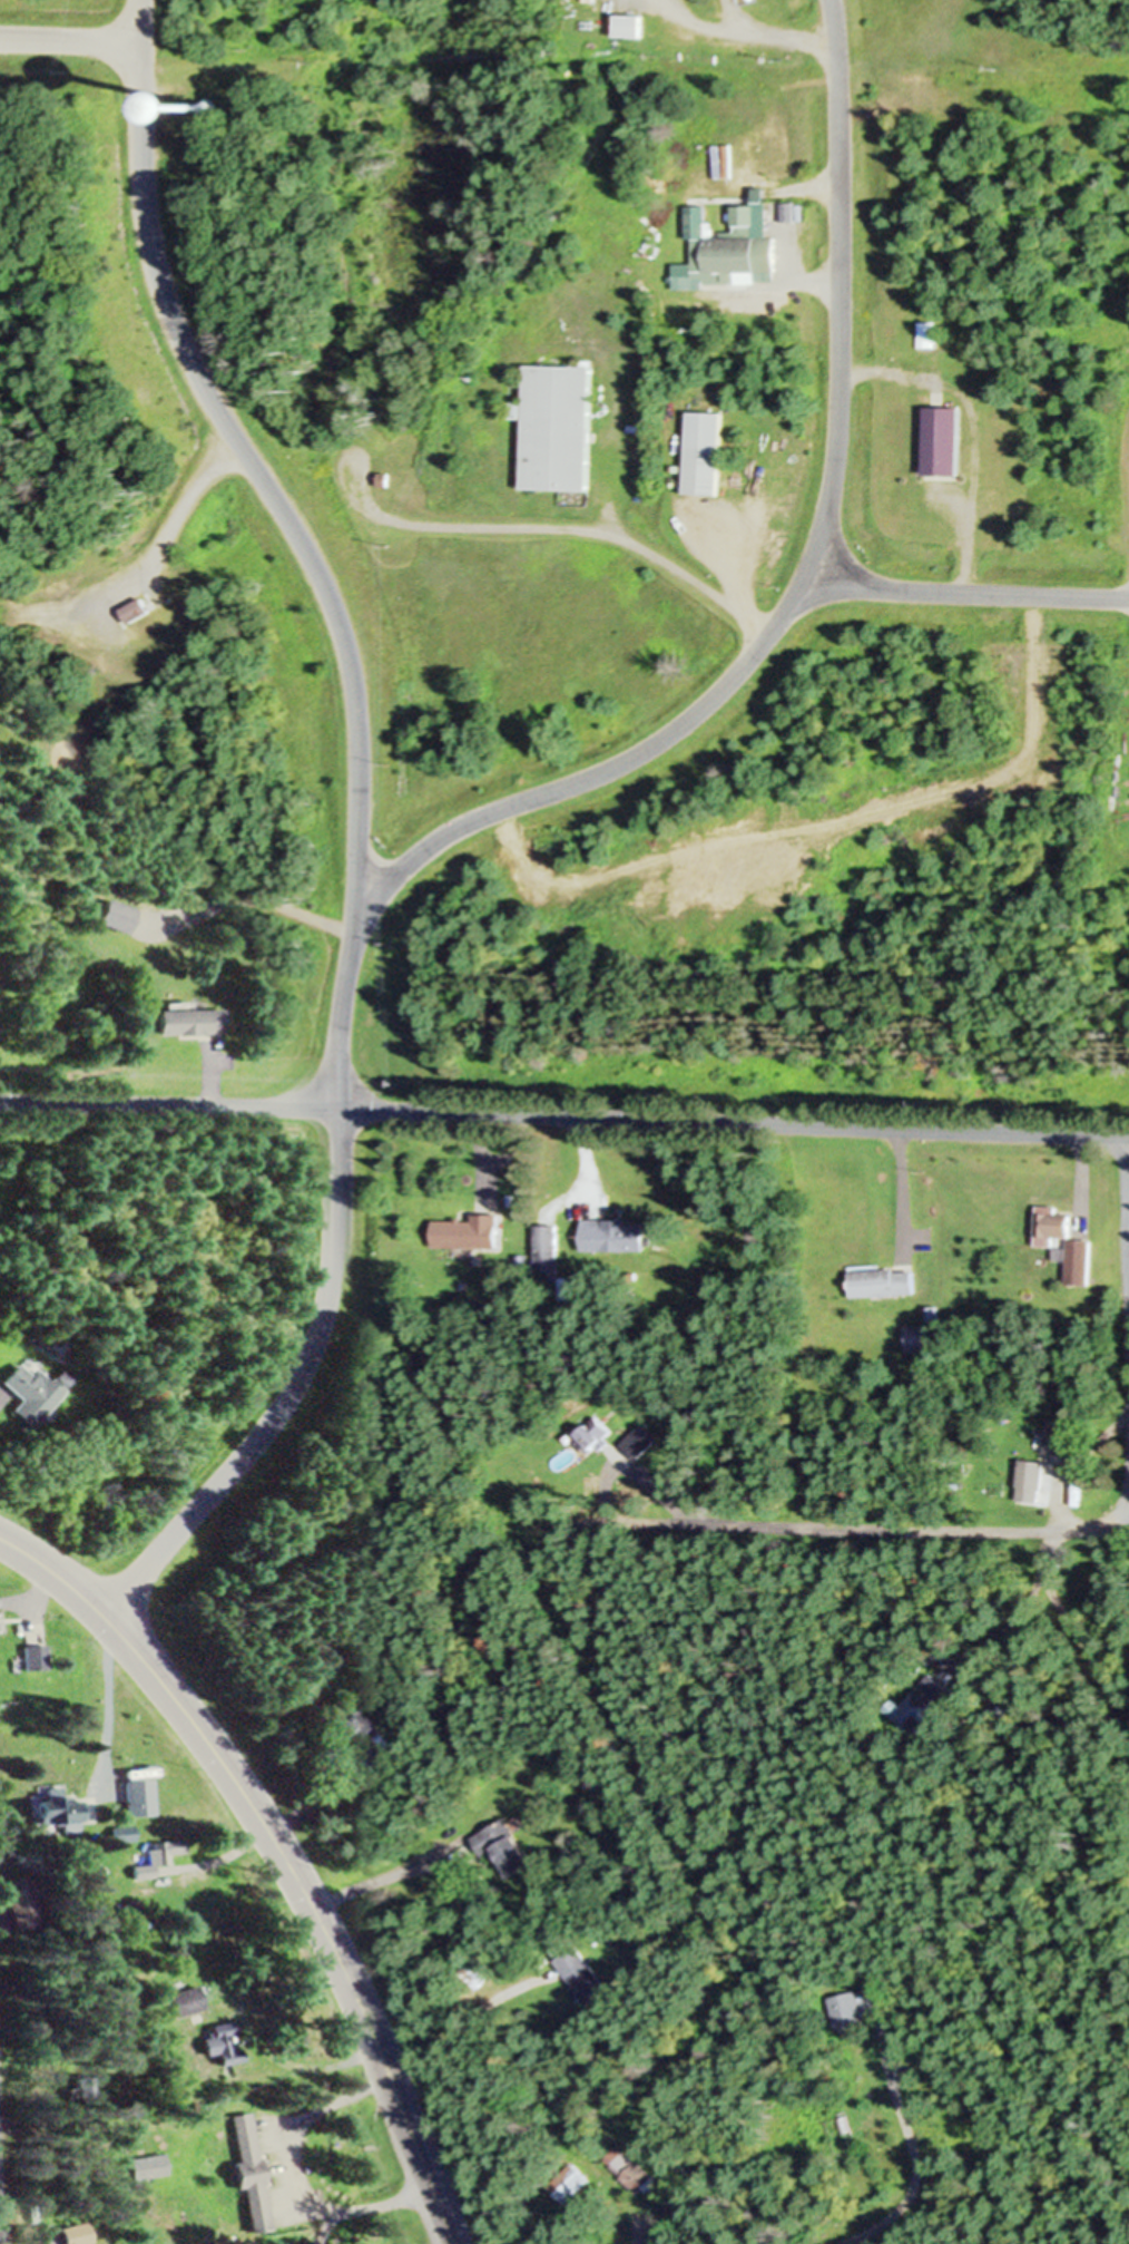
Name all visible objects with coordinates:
road: (700, 26)
road: (775, 33)
road: (71, 39)
water tower: (216, 109)
road: (840, 291)
road: (973, 427)
road: (247, 453)
road: (616, 486)
road: (185, 496)
road: (570, 529)
road: (730, 573)
road: (972, 593)
road: (606, 769)
road: (259, 899)
road: (338, 1004)
road: (168, 1100)
road: (732, 1121)
road: (480, 1141)
road: (581, 1147)
road: (1080, 1174)
road: (901, 1184)
road: (294, 1388)
road: (637, 1479)
road: (1128, 1499)
road: (1054, 1525)
road: (1054, 1534)
road: (30, 1594)
road: (1083, 1657)
road: (108, 1691)
road: (272, 1828)
road: (282, 1852)
road: (364, 1881)
road: (459, 2020)
road: (282, 2056)
road: (913, 2167)
road: (296, 2176)
road: (1, 2222)
road: (642, 2236)
road: (41, 2243)

